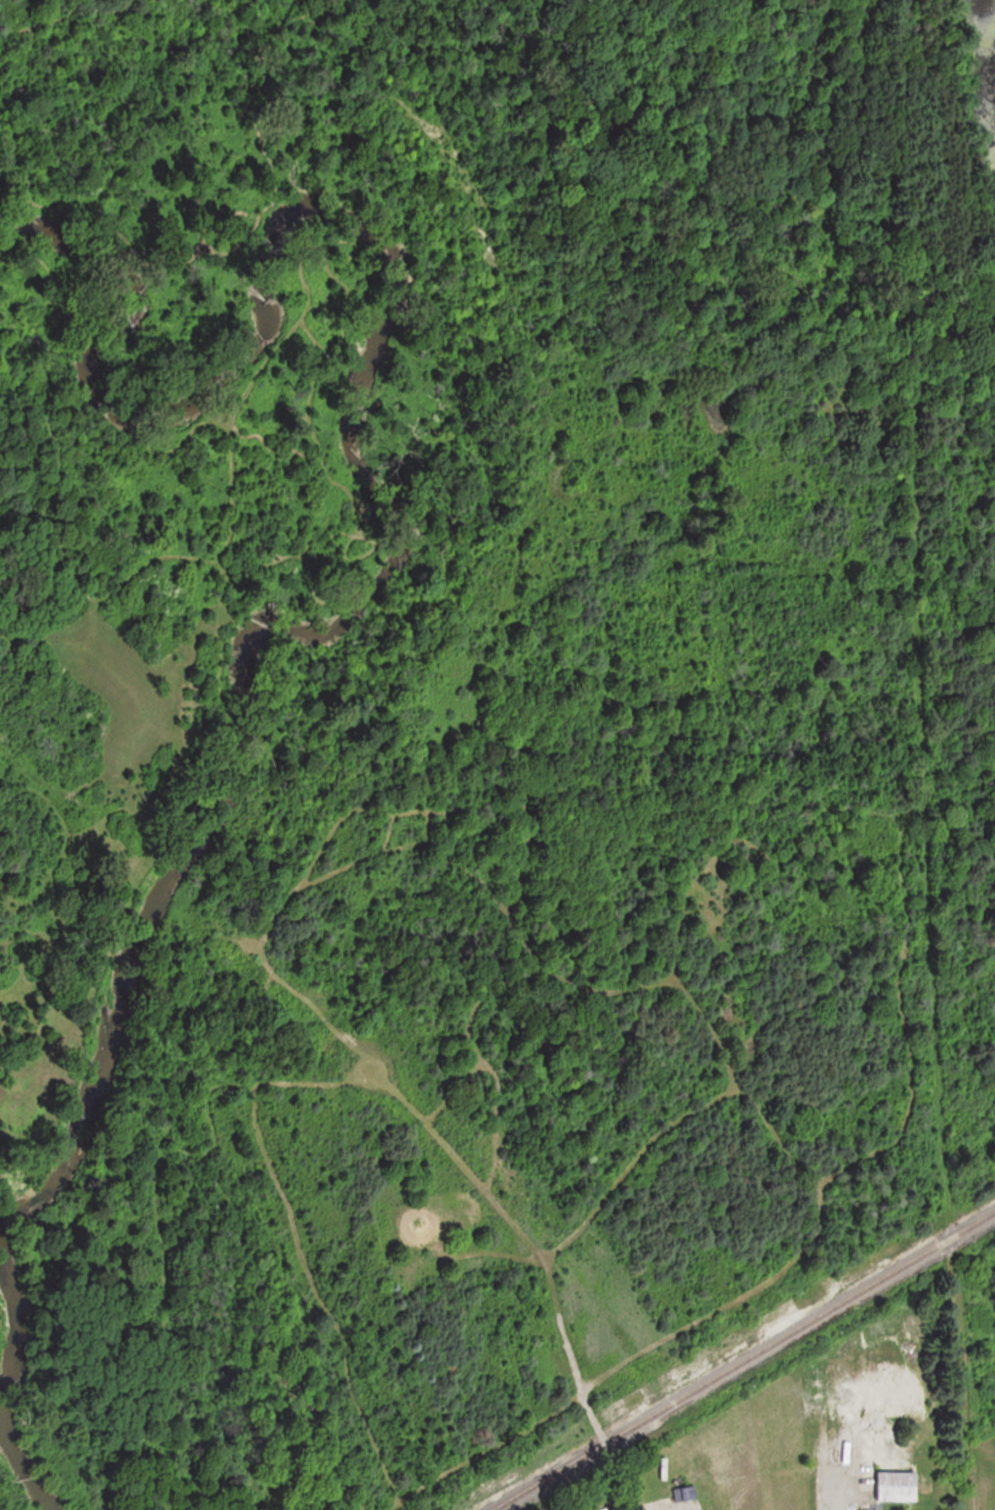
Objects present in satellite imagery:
building: (879, 1344)
railway: (748, 1365)
building: (898, 1487)
building: (686, 1494)

